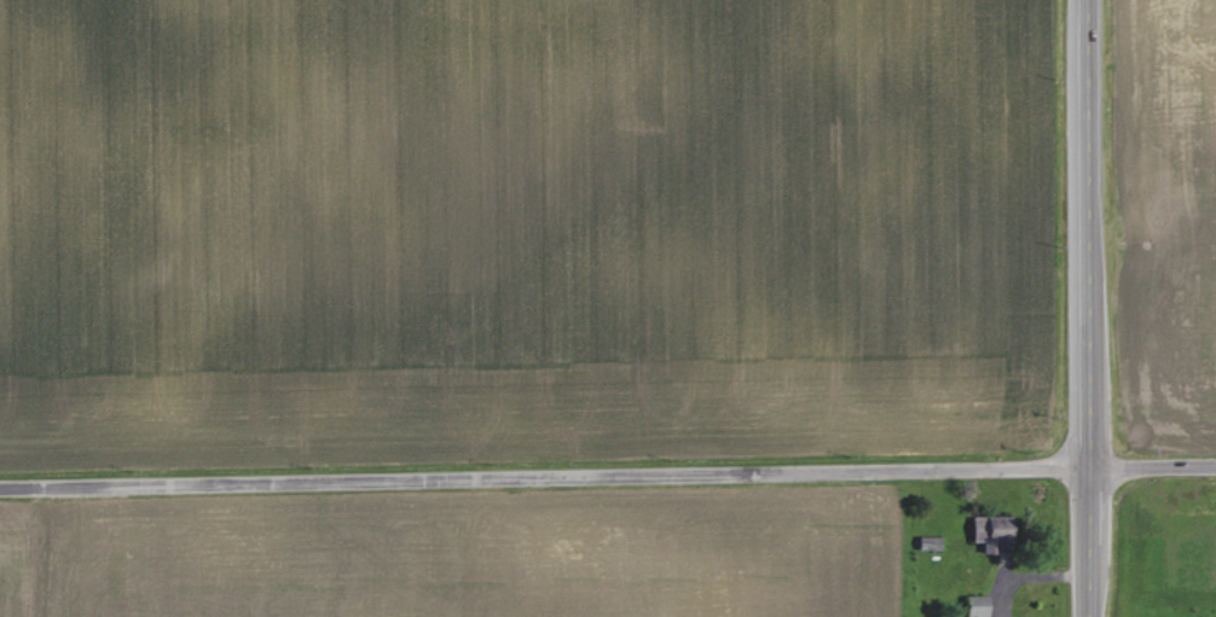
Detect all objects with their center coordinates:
road: (1090, 308)
road: (608, 484)
building: (990, 531)
building: (977, 605)

